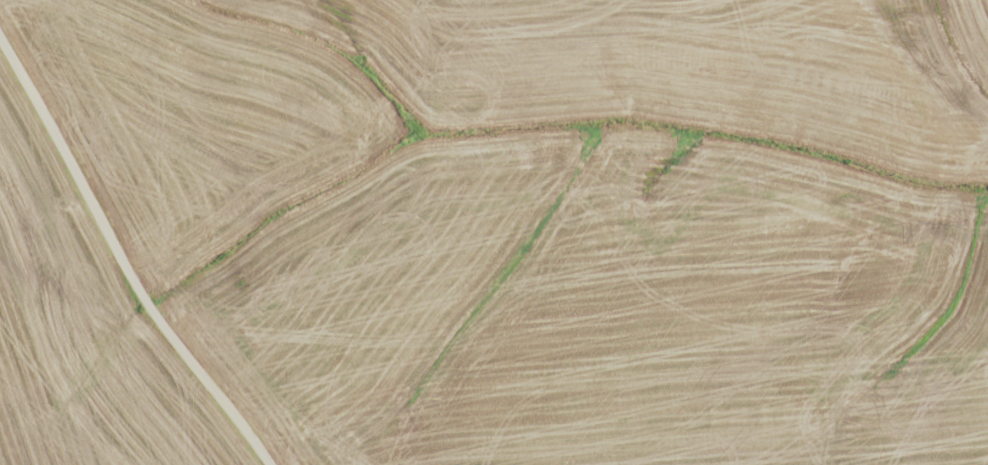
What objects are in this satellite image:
road: (121, 260)

